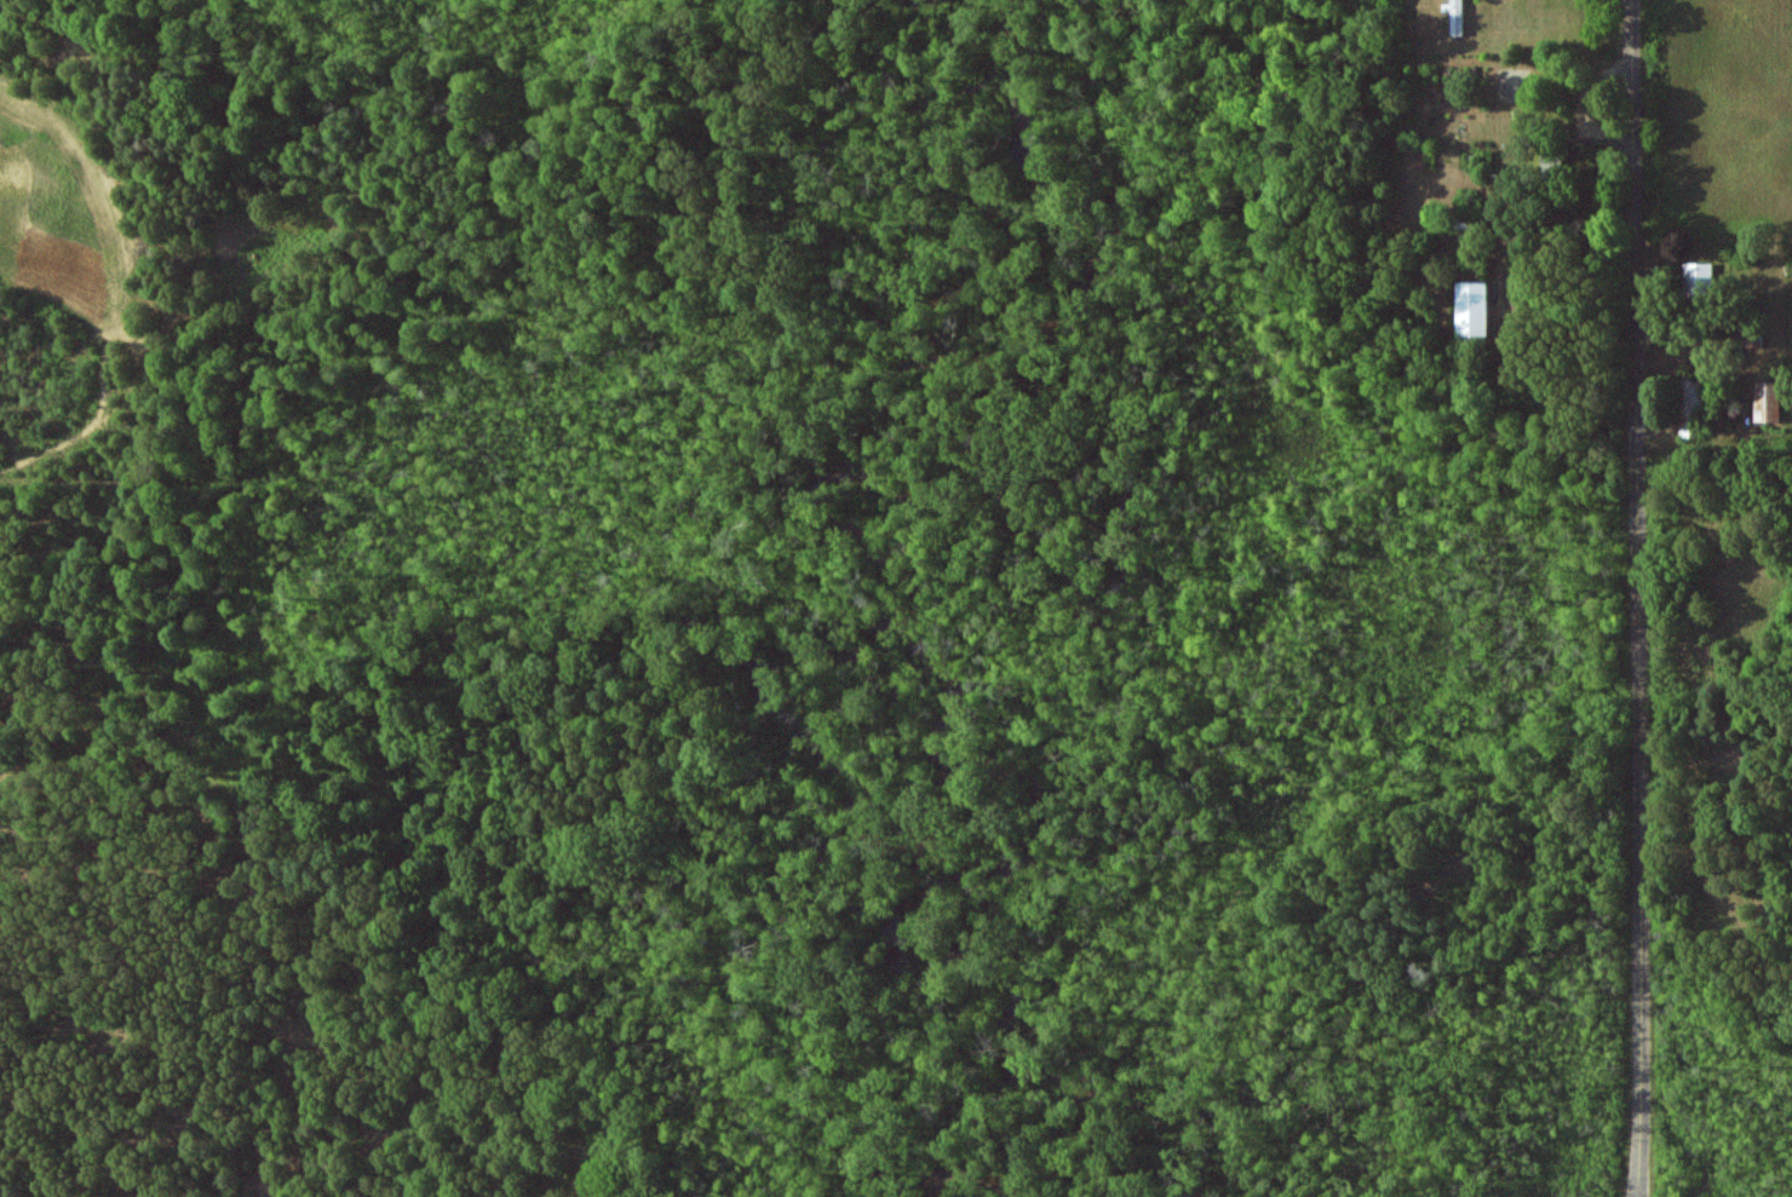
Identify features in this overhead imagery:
building: (1472, 309)
building: (1768, 401)
building: (1689, 408)
road: (1637, 598)

